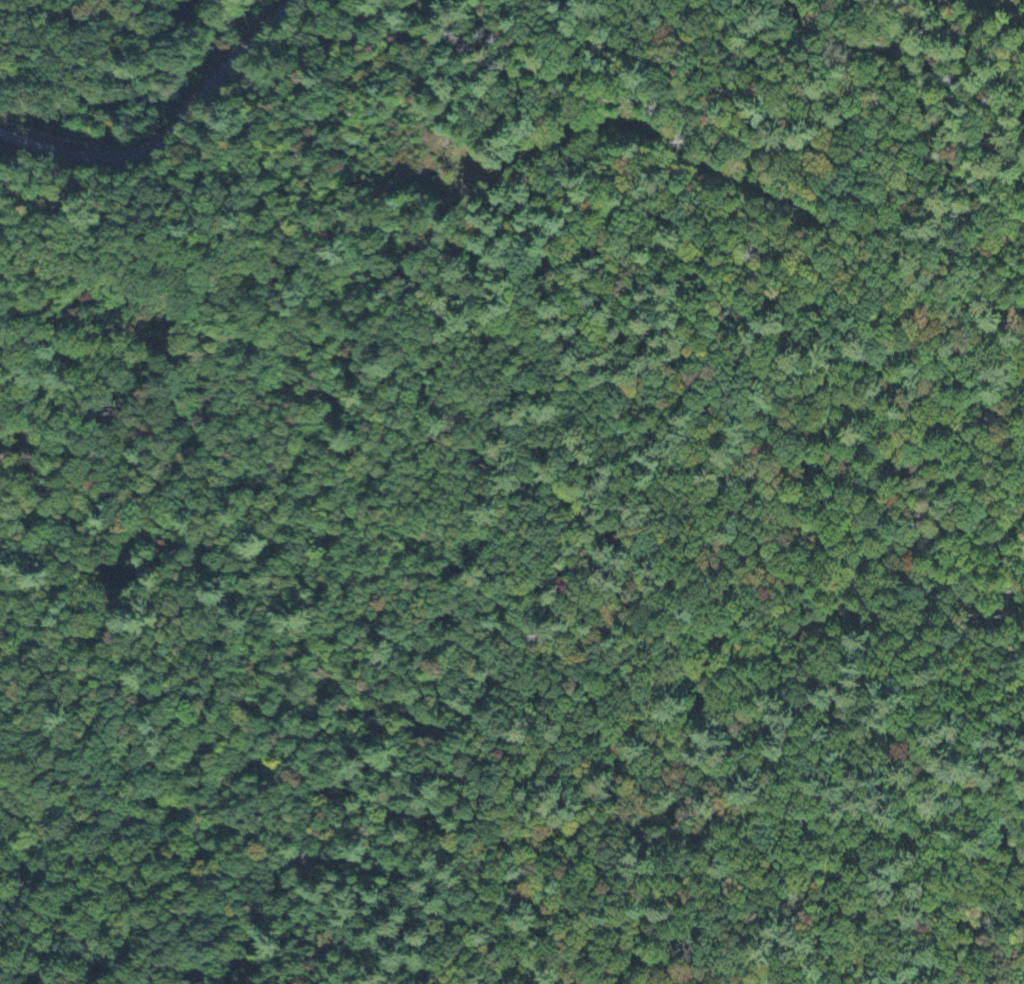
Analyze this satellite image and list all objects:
road: (158, 124)

